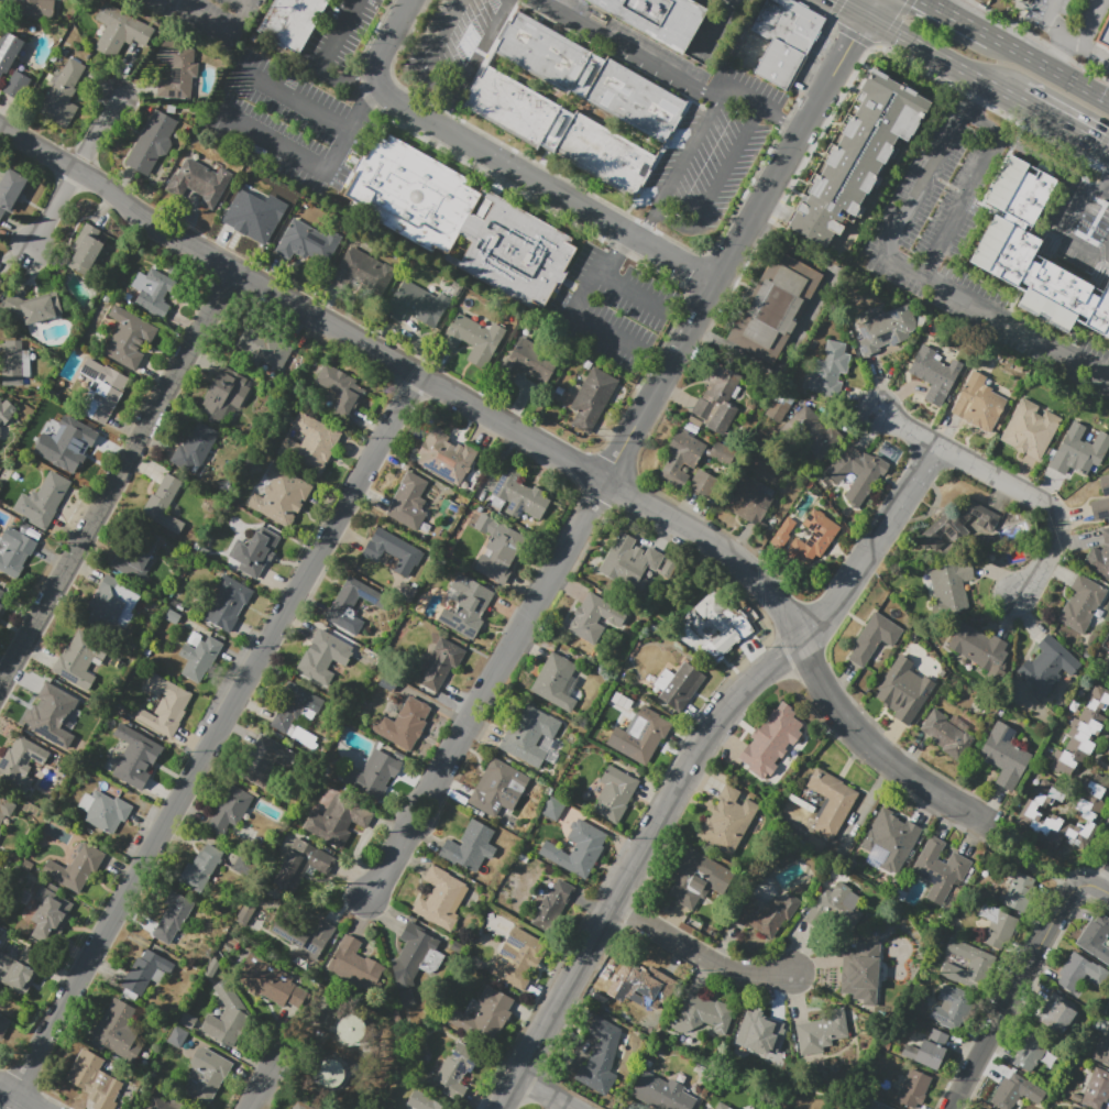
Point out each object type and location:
traffic signals: (836, 0)
building: (1020, 1)
road: (925, 2)
road: (930, 2)
building: (36, 7)
road: (850, 8)
road: (869, 8)
road: (1052, 11)
building: (660, 19)
building: (292, 21)
road: (962, 22)
road: (718, 23)
road: (220, 25)
road: (894, 25)
parking lot: (1073, 25)
parking lot: (717, 29)
building: (119, 30)
road: (340, 31)
building: (1103, 32)
road: (854, 35)
road: (442, 37)
building: (784, 39)
traffic signals: (853, 40)
road: (1085, 41)
road: (1059, 42)
building: (9, 51)
road: (1096, 51)
road: (897, 56)
road: (940, 56)
road: (1048, 59)
road: (471, 63)
road: (651, 63)
building: (176, 69)
road: (1051, 72)
building: (590, 76)
road: (341, 77)
building: (17, 86)
building: (64, 95)
road: (971, 97)
road: (298, 100)
road: (370, 100)
road: (781, 118)
road: (979, 123)
road: (1061, 124)
building: (561, 132)
building: (151, 142)
traffic signals: (1097, 144)
road: (1099, 149)
building: (858, 157)
road: (1046, 161)
road: (505, 162)
road: (304, 163)
road: (72, 171)
building: (201, 183)
road: (924, 184)
road: (1102, 184)
building: (11, 190)
road: (1102, 193)
road: (960, 205)
building: (253, 216)
road: (673, 220)
building: (460, 221)
parking lot: (1079, 228)
road: (1068, 237)
parking lot: (964, 240)
building: (305, 243)
building: (86, 249)
road: (736, 249)
building: (1034, 254)
building: (362, 272)
road: (612, 282)
building: (1, 284)
building: (153, 292)
building: (417, 304)
building: (775, 307)
building: (33, 308)
road: (997, 314)
road: (584, 317)
building: (886, 329)
building: (129, 338)
building: (472, 339)
building: (261, 347)
building: (528, 362)
building: (14, 363)
building: (830, 370)
road: (410, 371)
building: (934, 374)
building: (341, 388)
building: (103, 389)
building: (224, 394)
building: (0, 398)
building: (592, 398)
building: (716, 398)
building: (977, 403)
building: (779, 406)
building: (6, 410)
building: (1030, 429)
building: (0, 432)
building: (811, 432)
building: (66, 441)
building: (309, 443)
building: (195, 447)
building: (1075, 452)
building: (722, 453)
building: (447, 457)
building: (680, 458)
building: (860, 473)
road: (116, 476)
building: (702, 482)
road: (1011, 483)
building: (281, 496)
building: (517, 497)
building: (48, 498)
building: (751, 499)
building: (1100, 501)
building: (409, 502)
building: (163, 505)
building: (962, 520)
building: (782, 532)
building: (813, 538)
road: (870, 545)
building: (498, 548)
building: (257, 550)
building: (14, 551)
building: (395, 551)
building: (134, 554)
building: (1099, 557)
building: (634, 563)
building: (951, 588)
building: (1, 593)
building: (227, 603)
building: (1081, 603)
building: (0, 604)
building: (352, 604)
building: (0, 605)
building: (112, 605)
building: (466, 606)
building: (594, 617)
building: (722, 624)
building: (874, 638)
building: (977, 647)
building: (199, 657)
building: (323, 657)
building: (76, 660)
building: (440, 663)
building: (1047, 667)
building: (1106, 668)
building: (556, 682)
building: (679, 685)
road: (487, 689)
building: (903, 690)
building: (164, 706)
building: (48, 707)
building: (296, 707)
building: (405, 724)
building: (947, 733)
building: (1080, 733)
building: (529, 735)
building: (639, 736)
road: (210, 740)
building: (770, 743)
road: (876, 748)
building: (1108, 751)
building: (1004, 756)
building: (134, 757)
building: (265, 760)
building: (20, 764)
building: (373, 775)
building: (498, 789)
building: (614, 793)
building: (831, 802)
building: (6, 808)
building: (551, 808)
building: (229, 810)
building: (103, 811)
building: (1029, 813)
building: (728, 820)
building: (338, 821)
building: (0, 830)
building: (877, 836)
building: (470, 848)
building: (578, 849)
road: (1029, 859)
building: (0, 861)
road: (634, 863)
building: (77, 867)
building: (299, 867)
building: (200, 869)
building: (938, 869)
building: (696, 878)
road: (1105, 882)
road: (1095, 887)
building: (1021, 893)
building: (442, 899)
building: (552, 905)
building: (834, 905)
building: (47, 913)
building: (767, 913)
building: (173, 916)
building: (997, 926)
building: (1094, 935)
building: (305, 937)
road: (699, 953)
building: (518, 958)
building: (415, 959)
building: (951, 960)
building: (354, 965)
building: (968, 965)
building: (20, 970)
building: (146, 971)
building: (860, 973)
building: (1079, 974)
building: (271, 982)
building: (637, 993)
road: (1012, 995)
building: (952, 1008)
building: (703, 1013)
building: (227, 1015)
building: (485, 1015)
building: (1056, 1015)
building: (187, 1021)
building: (3, 1025)
building: (350, 1029)
building: (117, 1030)
building: (822, 1031)
building: (177, 1037)
building: (759, 1043)
building: (927, 1050)
building: (1102, 1051)
building: (1026, 1053)
building: (601, 1057)
building: (454, 1072)
building: (327, 1073)
building: (206, 1075)
road: (262, 1076)
building: (92, 1083)
building: (913, 1087)
building: (1096, 1089)
building: (1010, 1090)
building: (661, 1092)
road: (543, 1094)
road: (19, 1098)
building: (422, 1101)
building: (167, 1103)
building: (880, 1103)
building: (301, 1106)
building: (722, 1106)
building: (772, 1108)
building: (1070, 1108)

